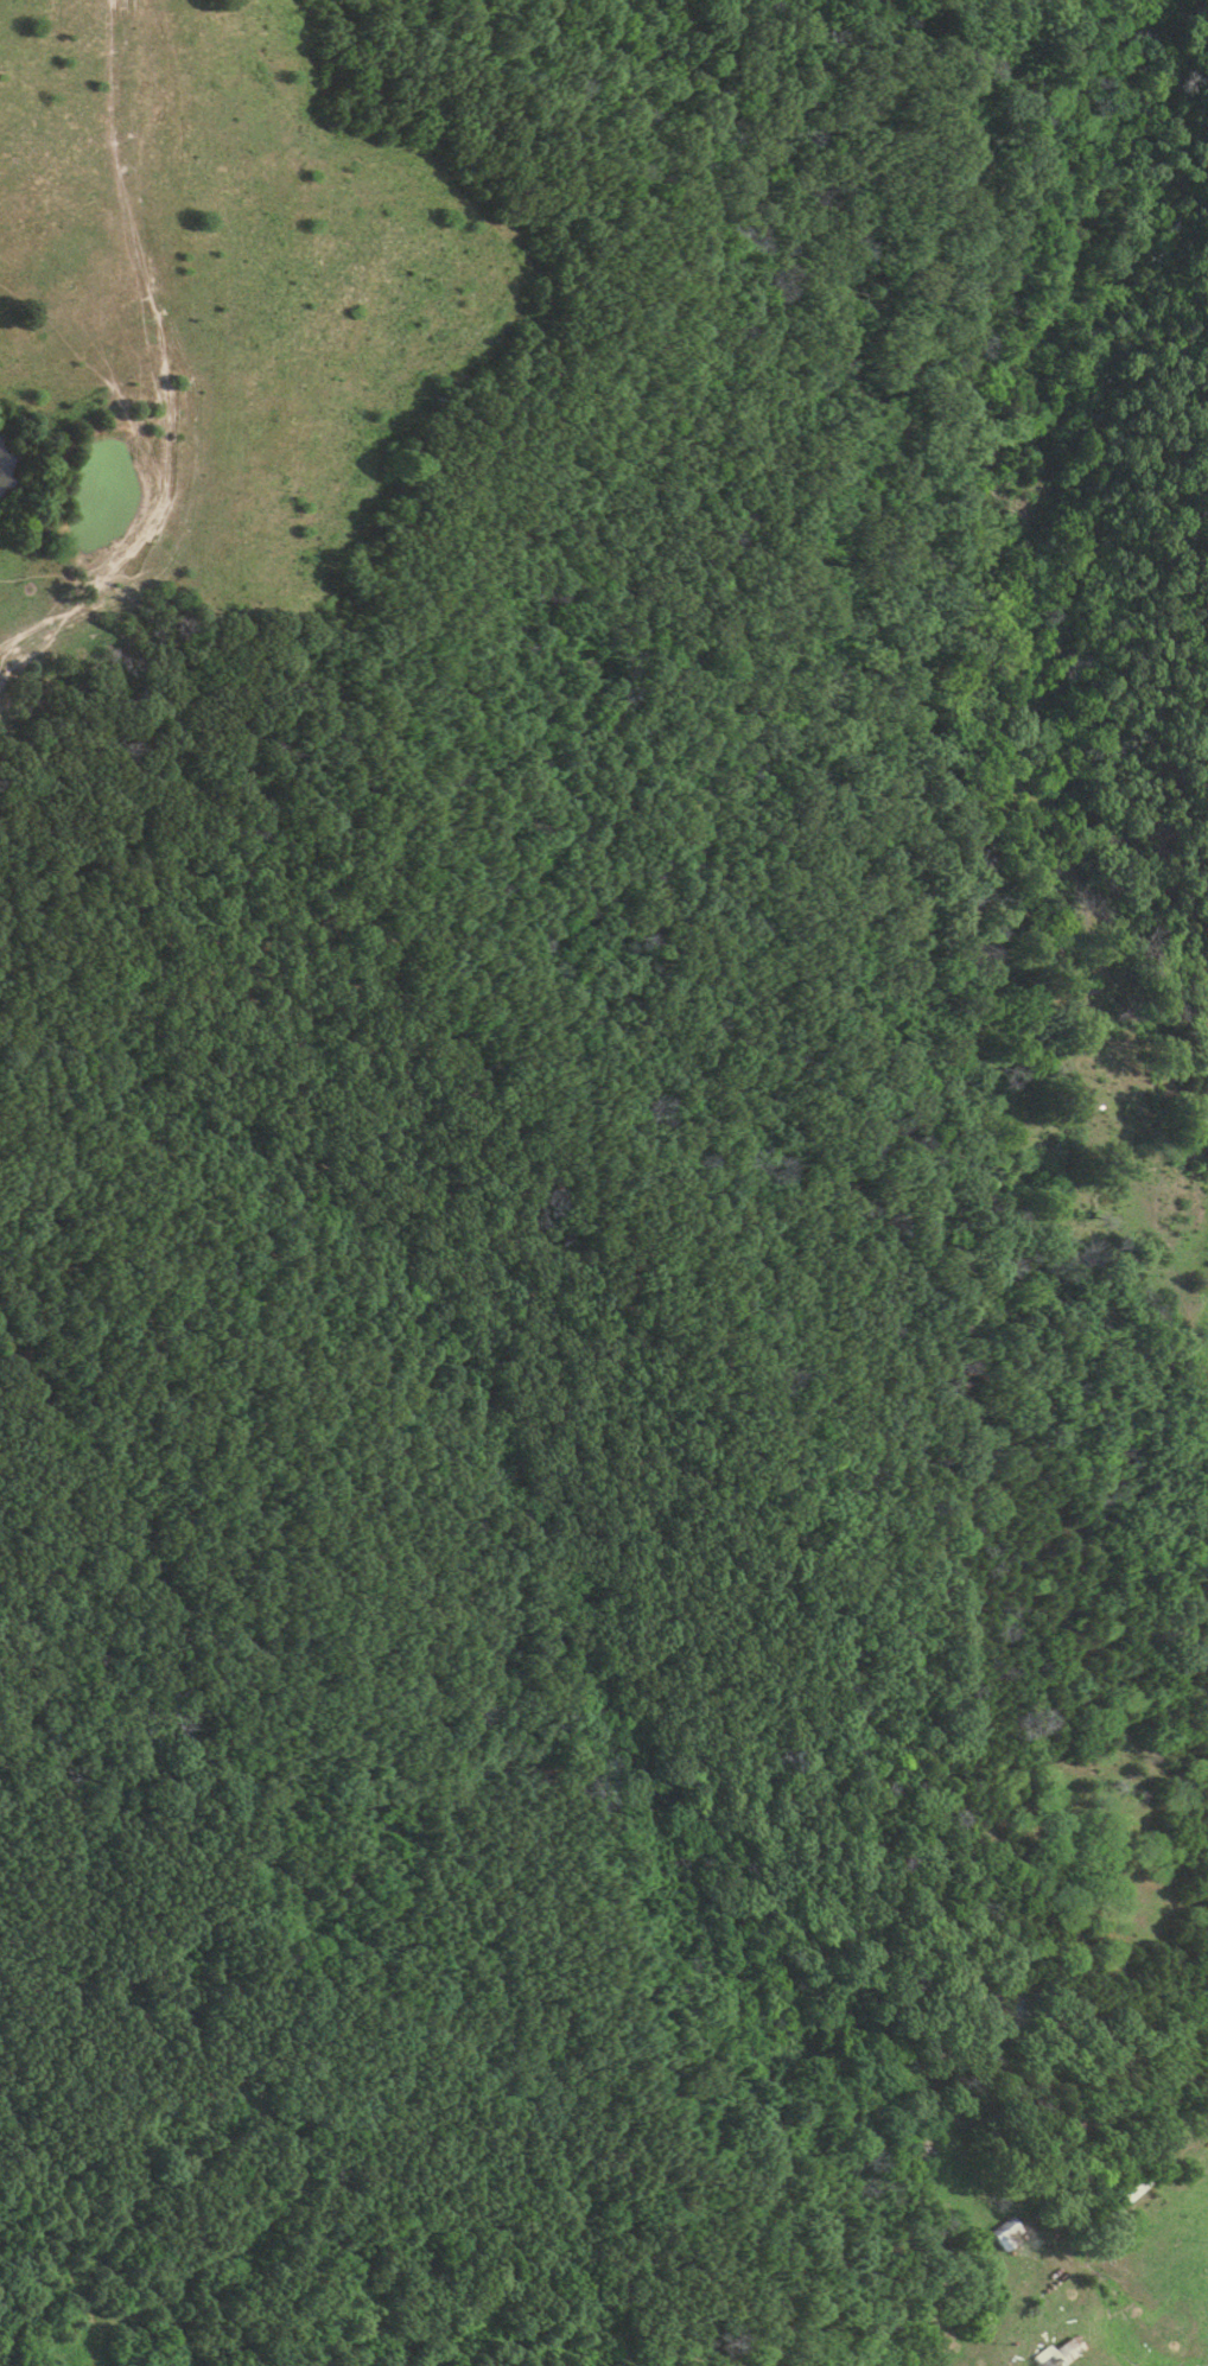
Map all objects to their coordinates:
road: (1030, 2215)

